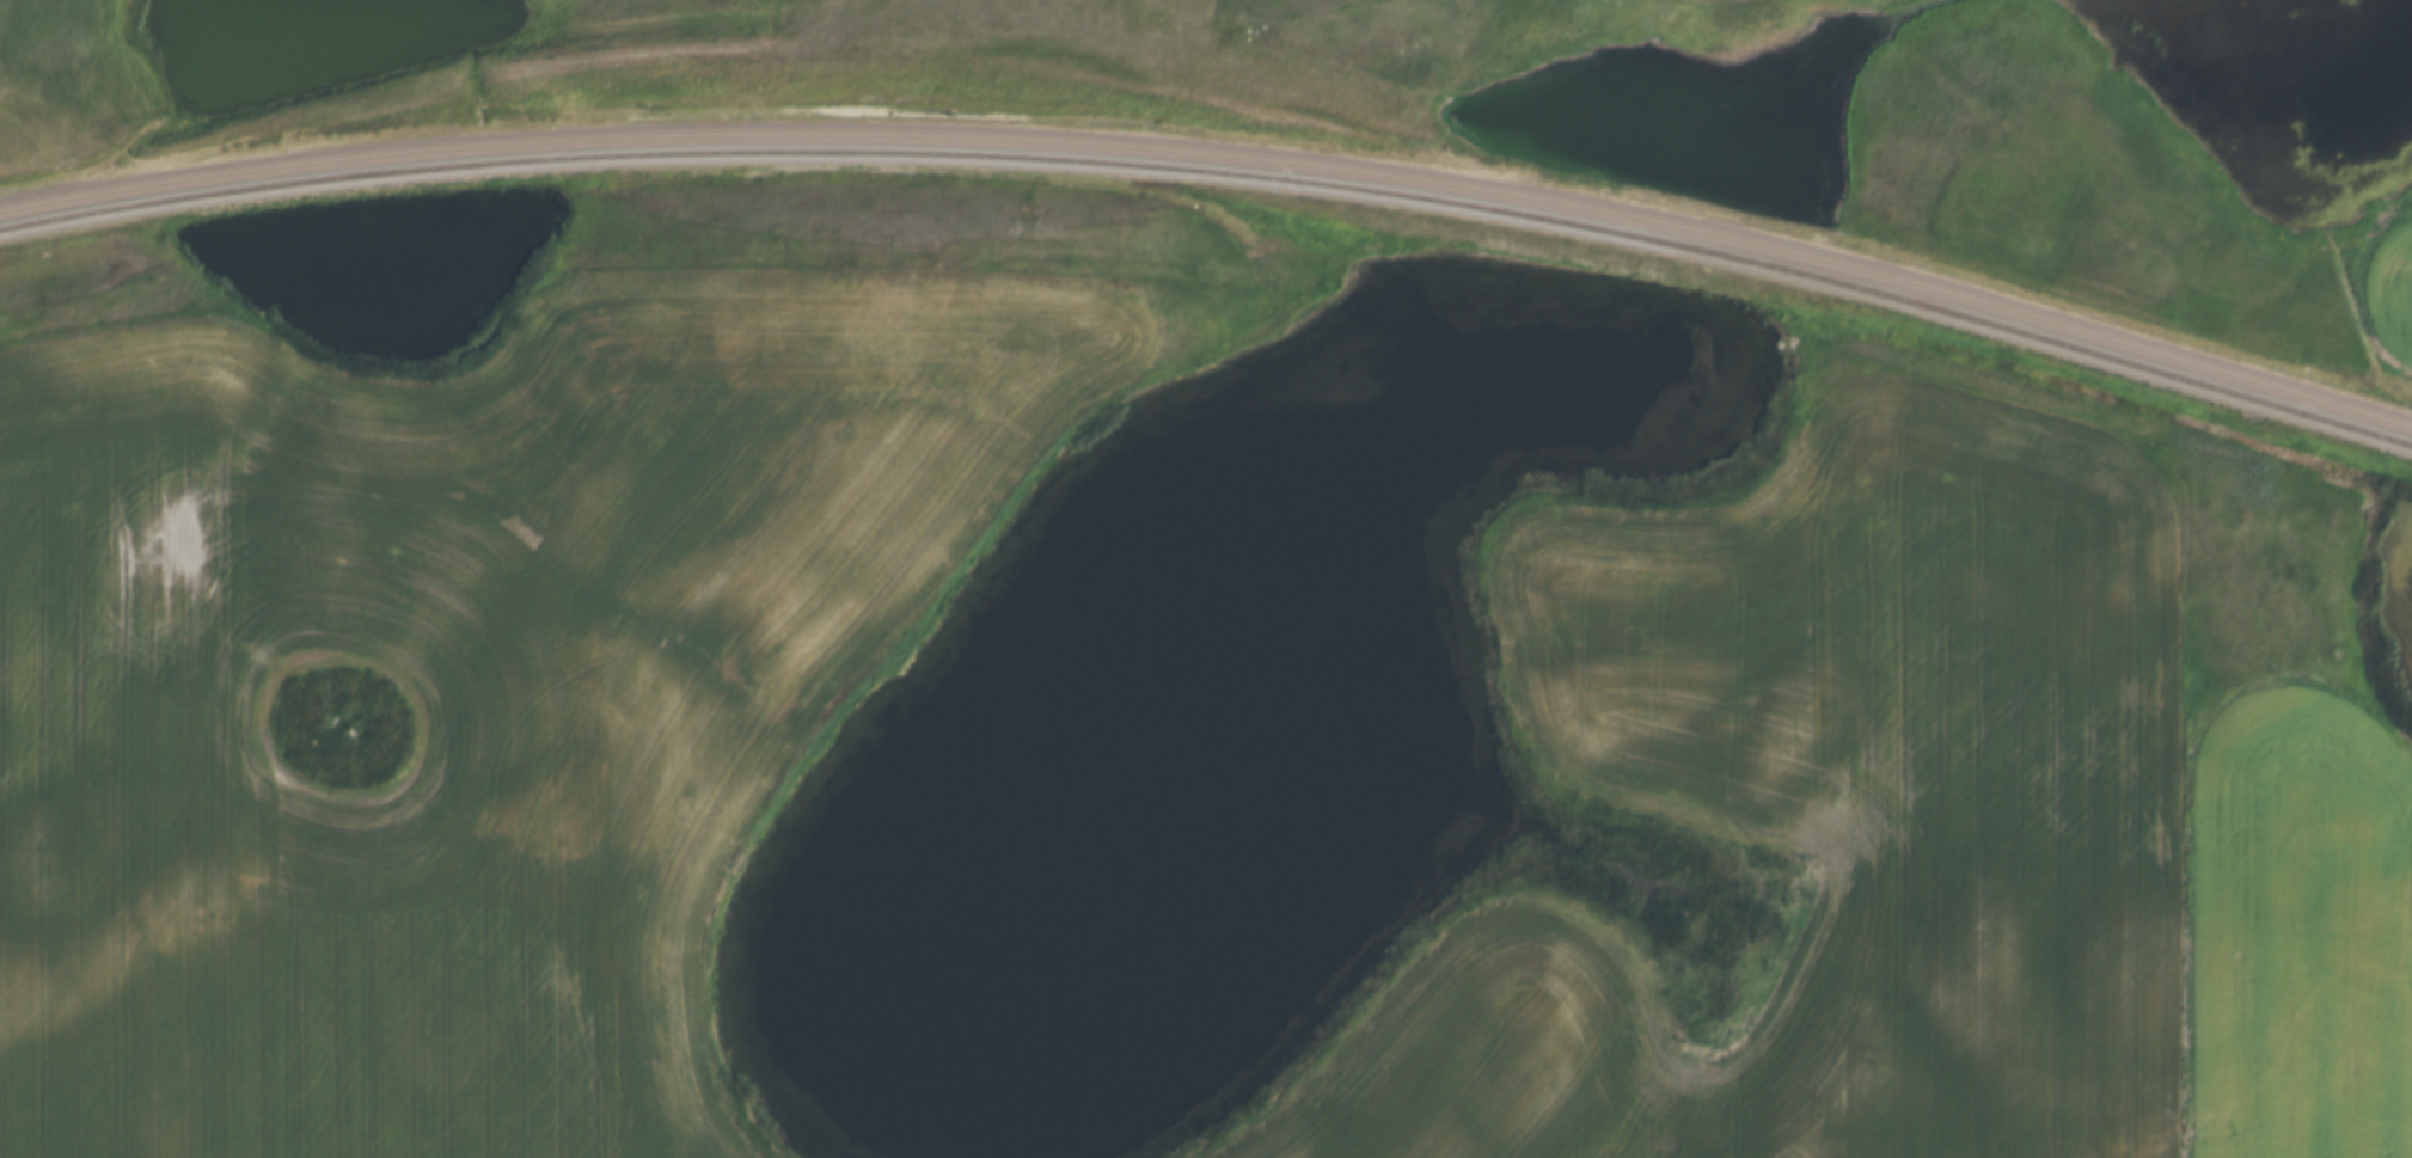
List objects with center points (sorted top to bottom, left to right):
railway: (1220, 146)
railway: (1219, 172)

